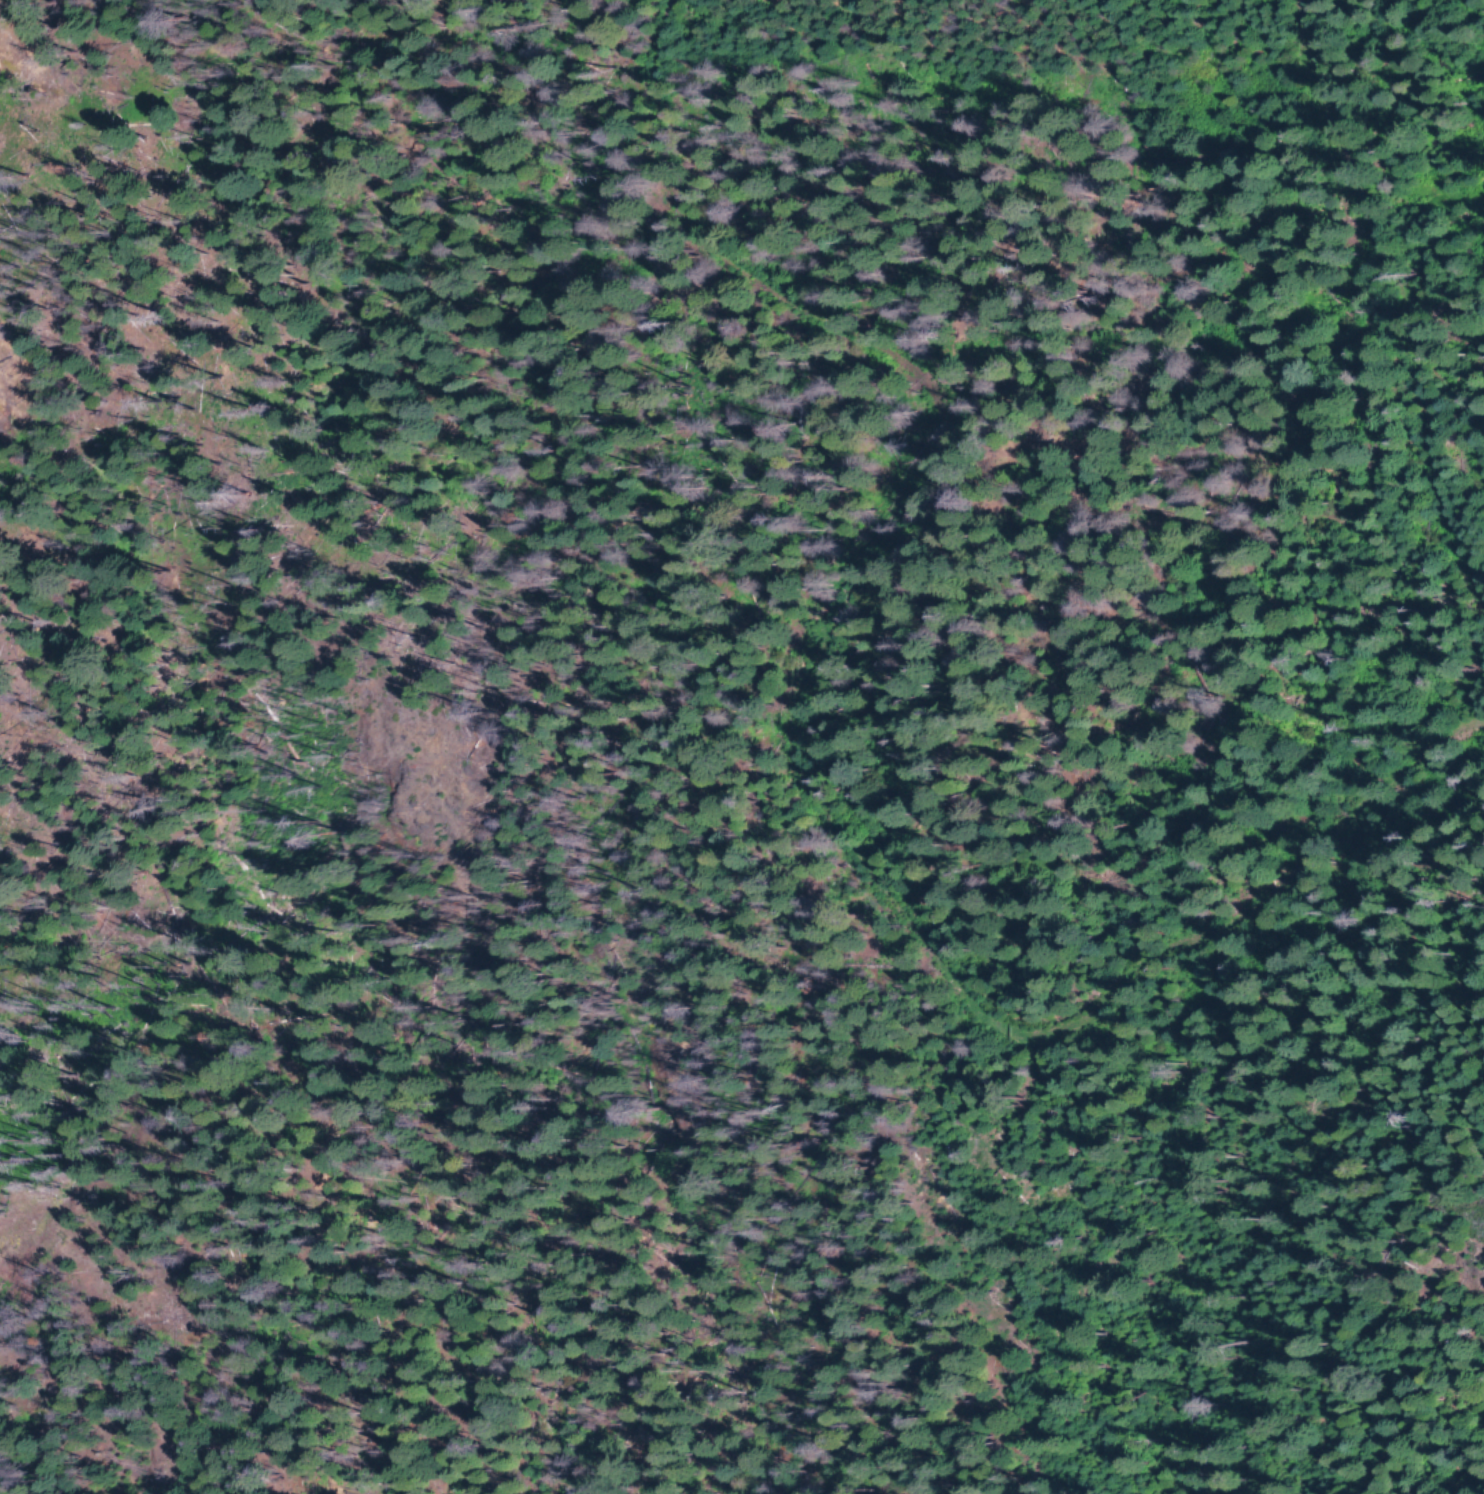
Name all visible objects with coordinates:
road: (1401, 289)

